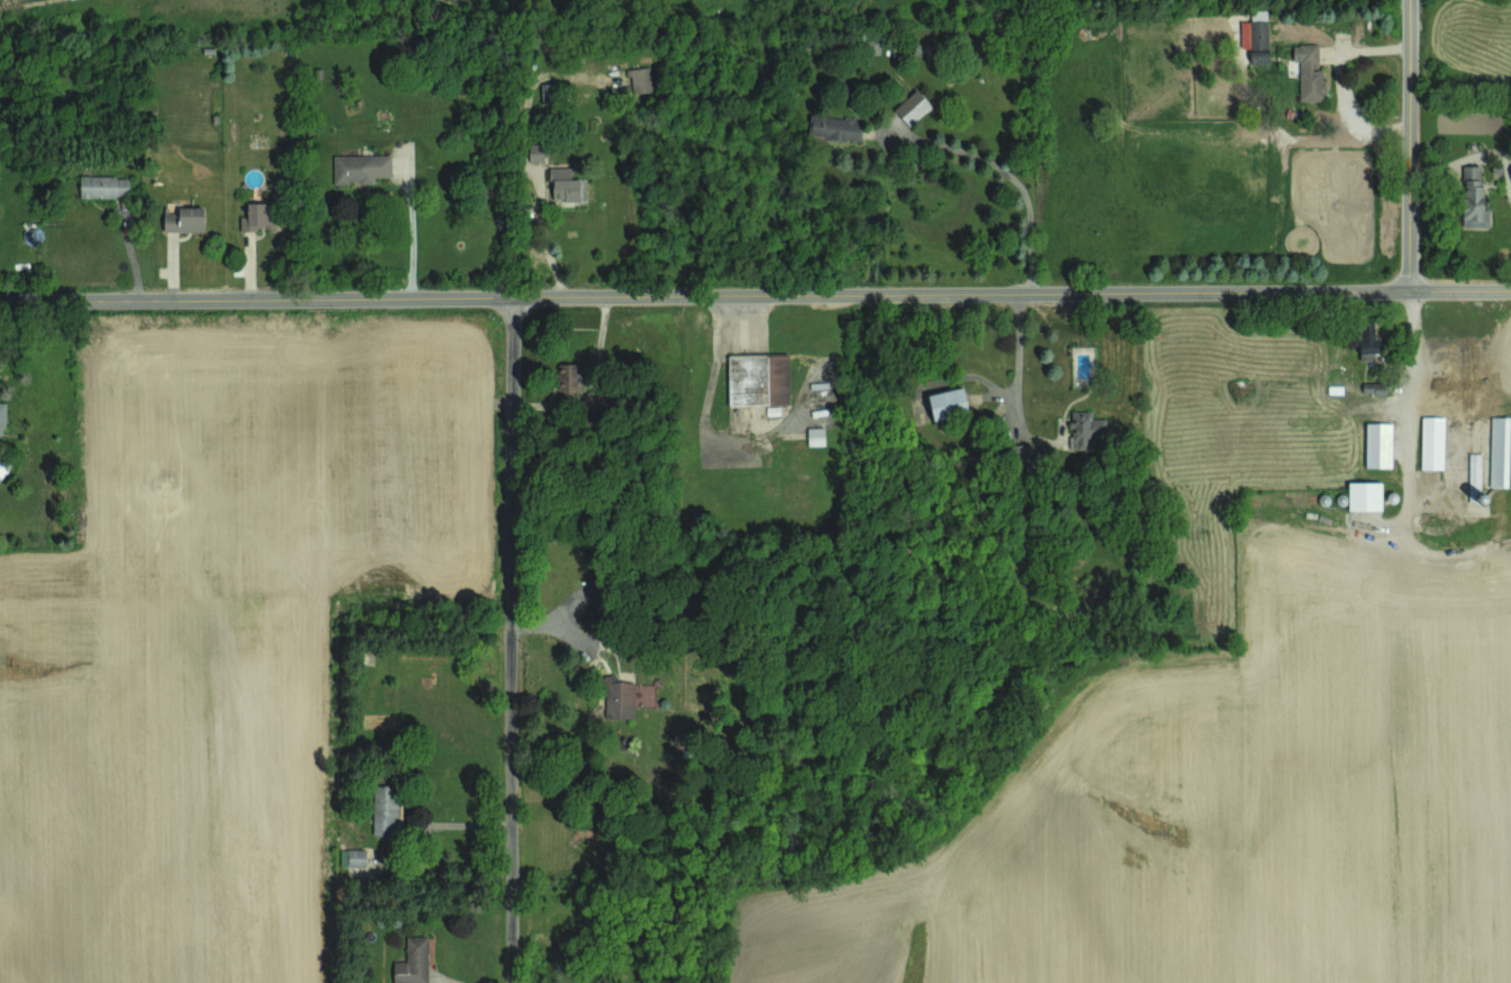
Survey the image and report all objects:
building: (1255, 39)
building: (922, 50)
building: (1309, 72)
building: (640, 79)
building: (549, 93)
building: (907, 112)
building: (835, 127)
road: (1407, 145)
building: (536, 151)
building: (360, 167)
road: (1022, 181)
building: (566, 184)
building: (104, 186)
building: (1473, 198)
building: (258, 216)
building: (184, 219)
road: (407, 234)
road: (755, 294)
building: (1369, 337)
road: (1013, 355)
building: (568, 378)
building: (758, 379)
building: (1373, 387)
road: (1411, 390)
building: (948, 402)
building: (1399, 406)
building: (1447, 412)
building: (590, 414)
building: (2, 417)
road: (704, 427)
building: (1086, 429)
building: (815, 435)
building: (1378, 444)
building: (1499, 451)
building: (3, 467)
building: (1475, 476)
building: (1364, 495)
road: (512, 639)
building: (618, 698)
building: (384, 808)
road: (456, 823)
building: (352, 857)
building: (412, 962)

